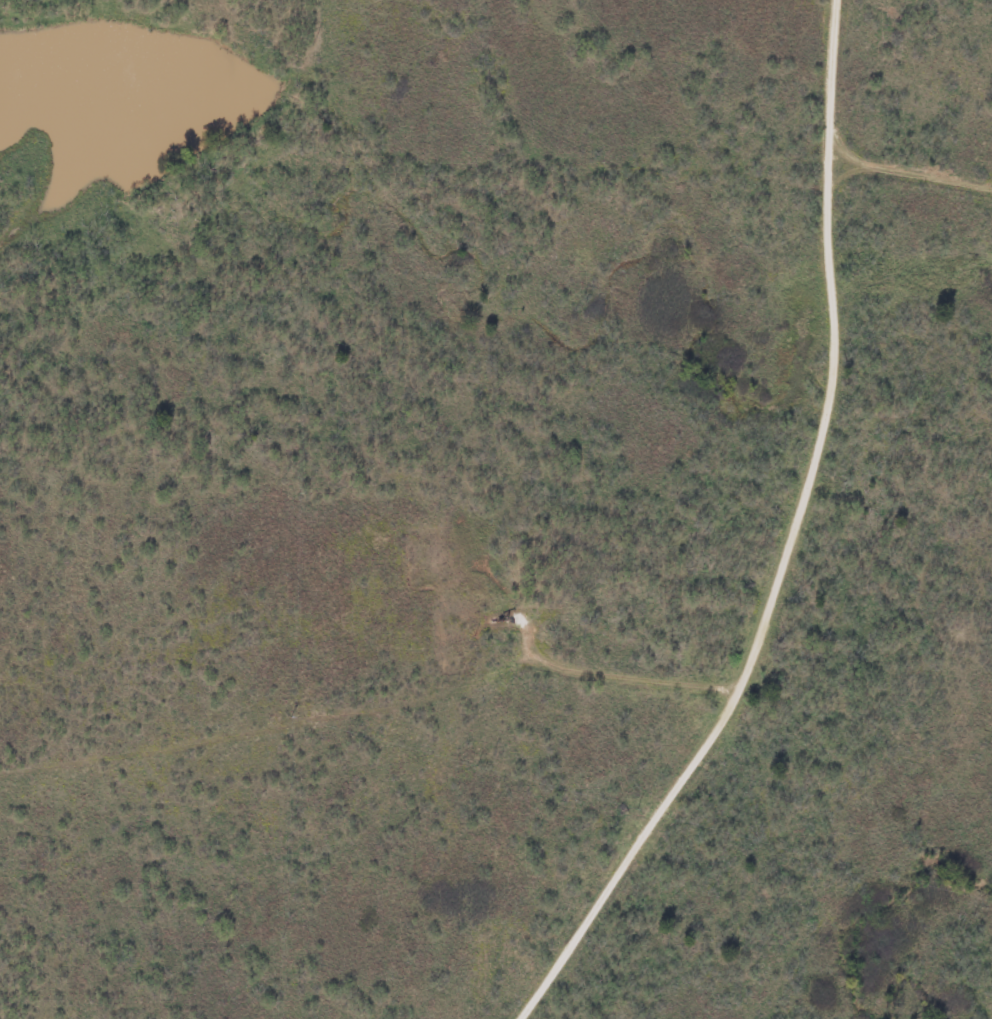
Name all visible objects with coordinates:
road: (811, 545)

